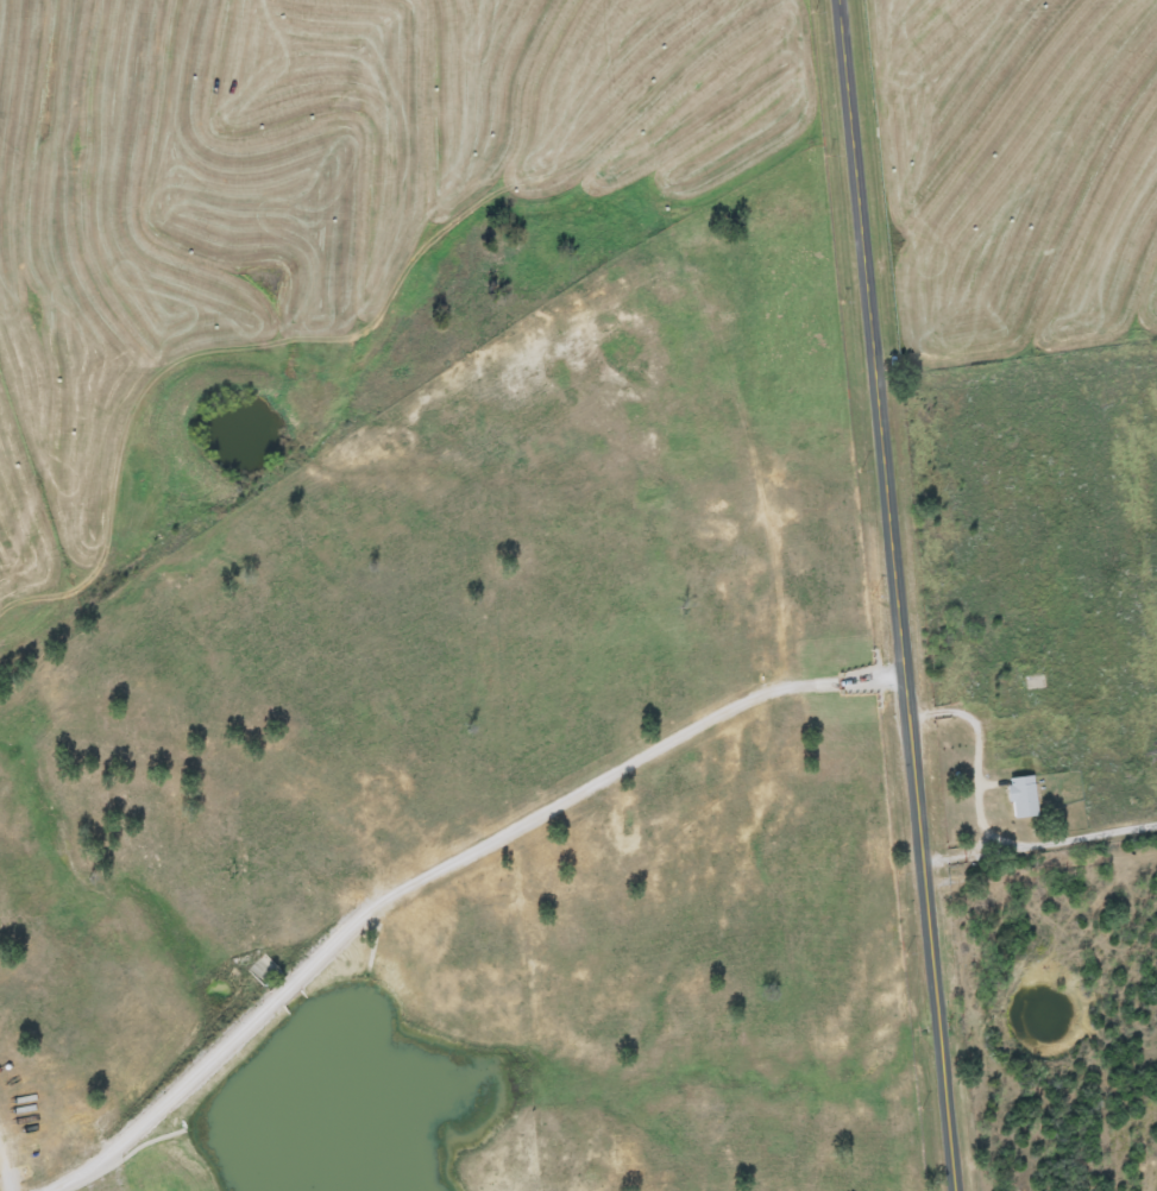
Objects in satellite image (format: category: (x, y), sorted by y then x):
road: (895, 595)
building: (1021, 798)
road: (1039, 843)
building: (260, 969)

